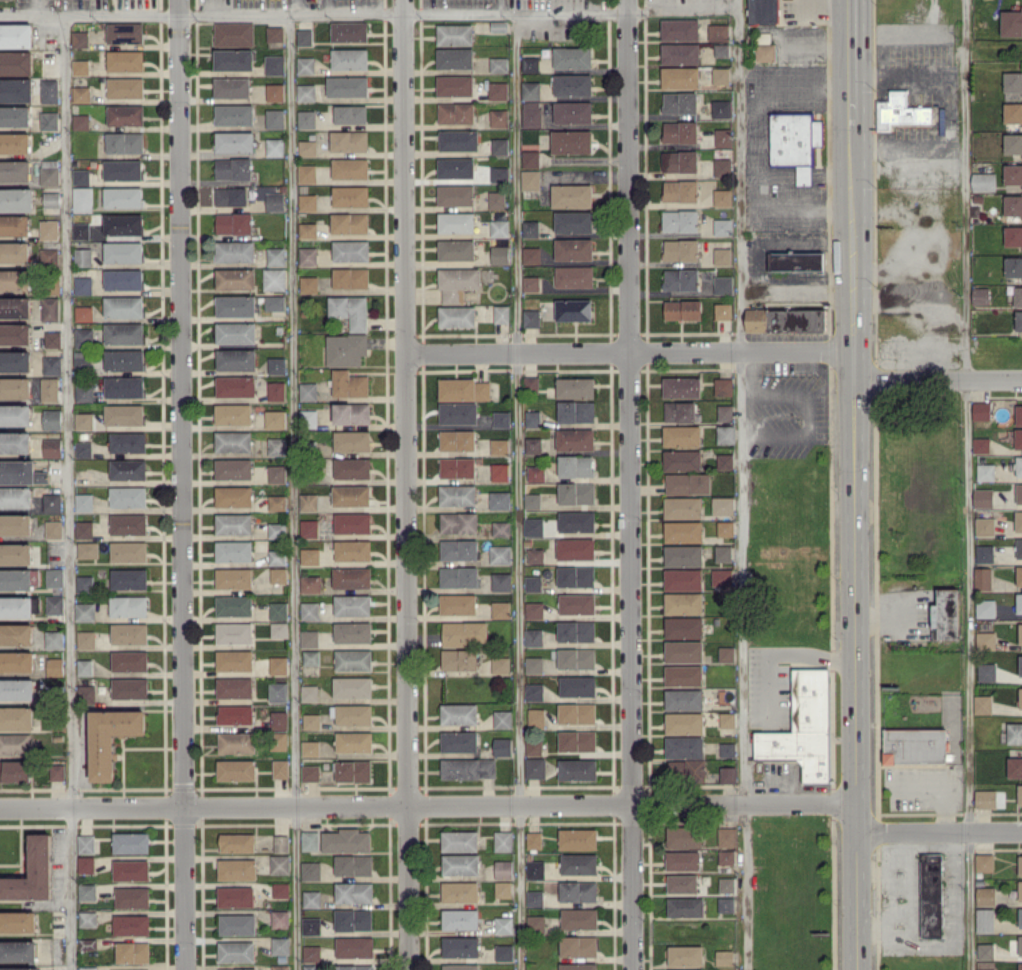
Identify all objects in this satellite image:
road: (325, 5)
road: (501, 5)
road: (35, 6)
road: (368, 10)
building: (764, 11)
building: (1011, 22)
building: (680, 29)
building: (349, 31)
building: (718, 31)
building: (125, 33)
building: (234, 34)
building: (275, 34)
building: (455, 34)
building: (16, 35)
building: (304, 37)
building: (80, 39)
road: (817, 40)
building: (721, 50)
building: (766, 52)
building: (680, 53)
building: (572, 57)
building: (349, 58)
building: (454, 58)
building: (234, 59)
building: (125, 60)
building: (16, 62)
building: (275, 64)
building: (498, 64)
building: (530, 64)
road: (852, 64)
building: (305, 65)
building: (80, 67)
road: (897, 71)
building: (721, 75)
building: (680, 77)
building: (1013, 81)
building: (454, 85)
building: (572, 85)
building: (347, 86)
building: (125, 87)
building: (231, 87)
building: (16, 90)
building: (49, 90)
building: (498, 90)
building: (530, 90)
building: (275, 92)
building: (306, 92)
building: (81, 93)
building: (680, 102)
building: (721, 108)
building: (903, 111)
building: (456, 112)
building: (573, 112)
building: (1013, 112)
building: (531, 113)
building: (125, 114)
building: (234, 114)
building: (350, 114)
building: (15, 116)
building: (275, 118)
building: (307, 118)
building: (499, 118)
building: (49, 120)
building: (81, 121)
building: (680, 132)
building: (723, 137)
building: (458, 140)
building: (234, 141)
building: (349, 141)
building: (571, 141)
building: (124, 142)
building: (795, 142)
building: (15, 143)
building: (1013, 143)
building: (499, 146)
building: (275, 147)
building: (307, 147)
road: (755, 147)
building: (530, 158)
building: (680, 161)
building: (722, 166)
building: (456, 167)
building: (233, 168)
building: (350, 168)
building: (123, 169)
building: (15, 170)
building: (50, 172)
building: (307, 173)
building: (1013, 173)
building: (499, 174)
building: (81, 176)
building: (530, 179)
building: (984, 181)
building: (681, 191)
building: (456, 194)
building: (572, 195)
building: (231, 196)
building: (350, 196)
building: (123, 197)
building: (271, 197)
building: (722, 197)
building: (17, 199)
building: (52, 199)
building: (83, 199)
building: (496, 200)
building: (307, 202)
building: (1013, 204)
road: (935, 205)
building: (680, 220)
building: (573, 221)
building: (349, 222)
building: (456, 222)
building: (234, 223)
building: (15, 224)
building: (123, 224)
building: (722, 226)
building: (499, 228)
building: (531, 228)
building: (49, 229)
building: (81, 230)
building: (307, 230)
building: (1013, 236)
road: (794, 242)
building: (456, 249)
building: (574, 249)
building: (681, 249)
building: (235, 250)
building: (351, 250)
building: (124, 251)
building: (15, 252)
building: (500, 254)
building: (49, 255)
building: (531, 255)
building: (276, 256)
building: (308, 256)
building: (723, 256)
building: (83, 257)
building: (796, 261)
building: (1013, 266)
building: (574, 276)
building: (351, 277)
building: (235, 278)
building: (15, 279)
building: (124, 279)
building: (274, 279)
building: (681, 279)
building: (457, 283)
building: (531, 283)
building: (309, 284)
building: (83, 285)
building: (723, 285)
road: (794, 294)
building: (980, 295)
building: (1017, 296)
building: (274, 302)
building: (235, 305)
building: (124, 306)
building: (15, 307)
building: (50, 308)
building: (573, 309)
building: (683, 309)
building: (350, 310)
building: (722, 311)
building: (84, 313)
building: (501, 313)
building: (456, 316)
building: (531, 317)
building: (785, 319)
building: (1018, 320)
building: (235, 332)
building: (15, 333)
building: (124, 333)
building: (84, 337)
building: (53, 339)
building: (346, 349)
road: (629, 351)
building: (83, 359)
building: (124, 359)
building: (236, 359)
building: (15, 360)
building: (52, 364)
building: (277, 365)
road: (937, 381)
building: (349, 383)
building: (531, 383)
building: (236, 386)
building: (681, 386)
building: (723, 386)
building: (15, 387)
building: (125, 387)
building: (575, 387)
building: (49, 389)
building: (464, 389)
building: (276, 390)
building: (308, 391)
building: (84, 393)
road: (806, 403)
building: (981, 410)
building: (576, 411)
building: (679, 411)
building: (458, 412)
building: (725, 412)
building: (233, 413)
building: (352, 413)
building: (124, 414)
building: (1019, 414)
building: (15, 415)
building: (309, 418)
building: (533, 418)
building: (52, 419)
building: (275, 419)
building: (501, 419)
building: (84, 420)
building: (725, 434)
building: (682, 435)
building: (1018, 438)
building: (457, 439)
building: (575, 439)
building: (352, 440)
building: (233, 441)
building: (15, 442)
building: (128, 442)
building: (533, 445)
building: (981, 445)
building: (277, 446)
building: (499, 446)
building: (52, 447)
building: (84, 449)
building: (682, 460)
building: (725, 461)
building: (575, 465)
building: (1018, 465)
building: (457, 467)
building: (233, 468)
building: (352, 468)
building: (128, 469)
building: (500, 471)
building: (22, 472)
building: (985, 472)
building: (277, 473)
building: (536, 473)
building: (688, 483)
road: (181, 484)
road: (406, 484)
road: (630, 484)
road: (737, 485)
road: (968, 485)
road: (517, 489)
road: (292, 490)
road: (68, 491)
building: (576, 493)
building: (1019, 493)
building: (351, 495)
building: (457, 495)
building: (128, 496)
building: (234, 496)
building: (16, 497)
building: (983, 498)
building: (500, 500)
building: (532, 500)
building: (309, 501)
building: (52, 502)
building: (84, 502)
building: (277, 502)
building: (723, 505)
building: (683, 507)
building: (1018, 520)
building: (577, 521)
building: (353, 522)
building: (459, 522)
building: (233, 523)
building: (16, 524)
building: (129, 524)
building: (534, 526)
building: (985, 526)
building: (309, 528)
building: (501, 528)
building: (726, 528)
building: (54, 529)
building: (84, 529)
building: (277, 530)
building: (683, 531)
building: (1019, 547)
building: (576, 548)
building: (88, 549)
building: (459, 549)
road: (854, 549)
building: (234, 550)
building: (353, 550)
building: (128, 551)
building: (16, 553)
building: (723, 553)
building: (984, 553)
building: (500, 554)
building: (310, 555)
building: (536, 555)
building: (683, 555)
building: (277, 557)
building: (279, 575)
building: (1019, 575)
building: (576, 576)
building: (54, 577)
building: (352, 577)
building: (459, 577)
building: (129, 578)
building: (234, 578)
building: (722, 578)
building: (982, 578)
building: (16, 579)
building: (683, 579)
building: (501, 582)
building: (310, 583)
building: (533, 583)
building: (85, 584)
building: (1019, 602)
building: (458, 603)
building: (577, 603)
building: (684, 603)
building: (55, 604)
building: (234, 605)
building: (352, 605)
building: (16, 606)
building: (129, 606)
building: (985, 608)
building: (501, 609)
building: (278, 610)
building: (309, 610)
building: (534, 610)
building: (85, 611)
building: (946, 614)
road: (882, 615)
building: (684, 627)
building: (279, 630)
building: (576, 630)
building: (234, 632)
building: (353, 632)
building: (465, 632)
building: (129, 633)
building: (1020, 633)
building: (16, 634)
building: (533, 637)
building: (309, 638)
building: (54, 639)
building: (86, 639)
building: (986, 640)
building: (684, 651)
building: (726, 653)
road: (778, 653)
building: (311, 657)
building: (576, 658)
building: (353, 659)
building: (459, 659)
building: (129, 660)
building: (234, 660)
building: (16, 661)
building: (500, 664)
building: (534, 664)
building: (278, 665)
building: (1020, 665)
building: (55, 666)
building: (85, 667)
building: (986, 671)
building: (683, 675)
building: (578, 685)
building: (352, 686)
building: (234, 687)
building: (130, 688)
building: (17, 689)
building: (278, 691)
building: (534, 692)
building: (86, 693)
building: (309, 693)
building: (1020, 697)
building: (684, 699)
building: (983, 704)
building: (459, 713)
building: (577, 713)
building: (235, 714)
building: (353, 714)
building: (536, 717)
building: (16, 718)
building: (502, 719)
building: (727, 719)
building: (279, 720)
building: (311, 721)
building: (684, 723)
building: (803, 727)
building: (1014, 733)
building: (111, 738)
building: (577, 740)
building: (279, 741)
building: (354, 741)
building: (459, 741)
building: (236, 742)
building: (15, 743)
building: (914, 745)
building: (501, 746)
building: (534, 747)
building: (684, 747)
building: (310, 748)
building: (727, 749)
building: (535, 767)
building: (1014, 767)
building: (280, 768)
building: (468, 768)
building: (236, 769)
building: (577, 769)
building: (686, 769)
building: (15, 770)
building: (57, 771)
building: (353, 771)
building: (310, 773)
building: (728, 774)
road: (945, 782)
building: (1019, 794)
building: (986, 798)
road: (428, 806)
road: (939, 833)
building: (684, 836)
building: (727, 836)
building: (578, 838)
building: (534, 839)
building: (310, 840)
building: (346, 840)
building: (459, 840)
building: (503, 841)
building: (131, 842)
building: (237, 842)
building: (86, 843)
building: (281, 843)
building: (726, 856)
building: (682, 860)
building: (984, 862)
building: (86, 864)
building: (280, 864)
building: (353, 864)
building: (460, 864)
building: (579, 864)
building: (1020, 864)
building: (237, 869)
building: (502, 869)
building: (535, 869)
building: (131, 870)
building: (311, 870)
building: (32, 872)
building: (682, 883)
building: (726, 884)
road: (911, 884)
building: (280, 889)
building: (502, 889)
building: (1020, 890)
building: (87, 891)
building: (460, 891)
building: (578, 891)
building: (354, 892)
building: (931, 895)
building: (985, 895)
building: (235, 896)
building: (132, 897)
building: (535, 898)
building: (311, 899)
building: (726, 904)
building: (685, 906)
building: (1020, 917)
building: (279, 918)
building: (579, 918)
building: (88, 919)
building: (353, 919)
building: (460, 919)
building: (985, 919)
building: (18, 921)
building: (535, 923)
building: (131, 924)
building: (237, 924)
building: (502, 925)
building: (311, 926)
building: (88, 943)
building: (1020, 944)
building: (280, 945)
building: (578, 945)
building: (460, 946)
road: (954, 946)
building: (355, 947)
building: (18, 951)
building: (132, 951)
building: (236, 951)
building: (985, 951)
building: (502, 952)
building: (311, 953)
building: (685, 955)
building: (724, 957)
building: (578, 966)
building: (1020, 966)
building: (280, 967)
building: (309, 967)
building: (354, 967)
building: (460, 967)
building: (20, 968)
building: (88, 968)
building: (134, 969)
building: (238, 969)
building: (503, 969)
building: (690, 969)
building: (724, 969)
building: (985, 969)

